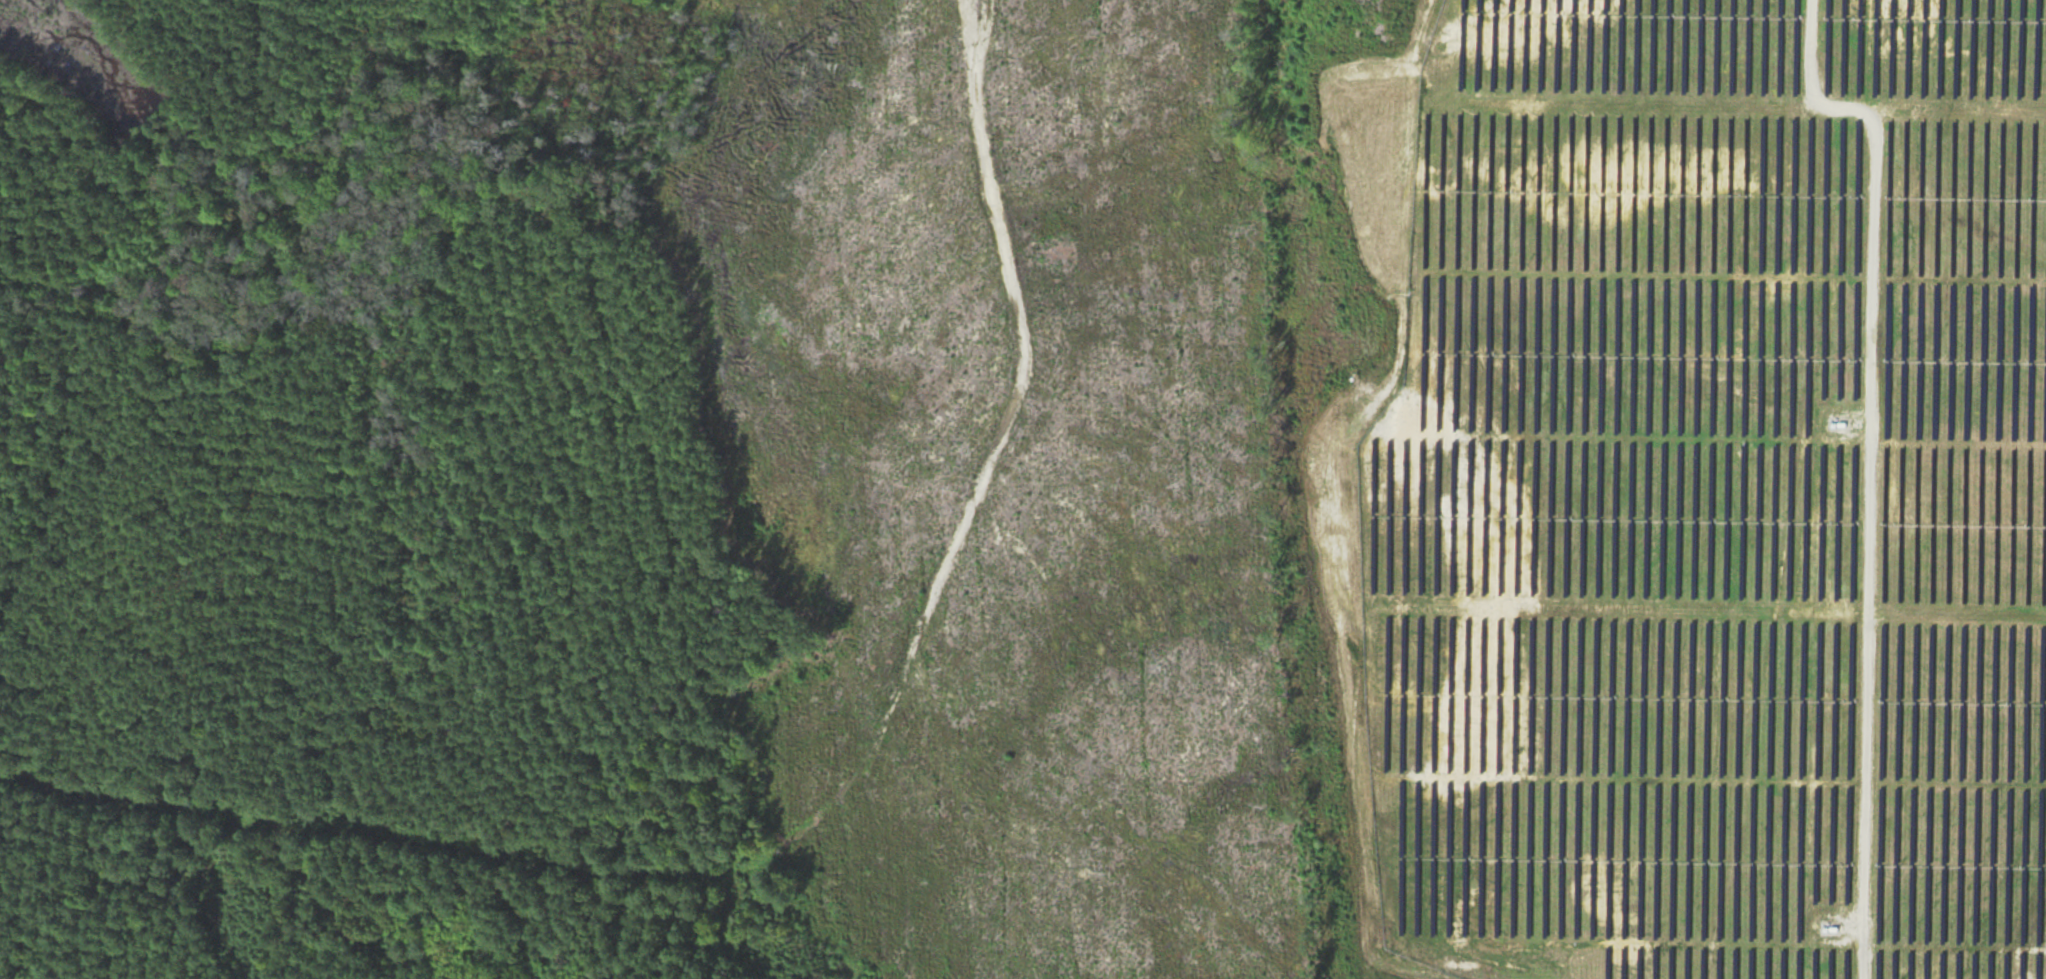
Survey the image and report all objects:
road: (1894, 15)

